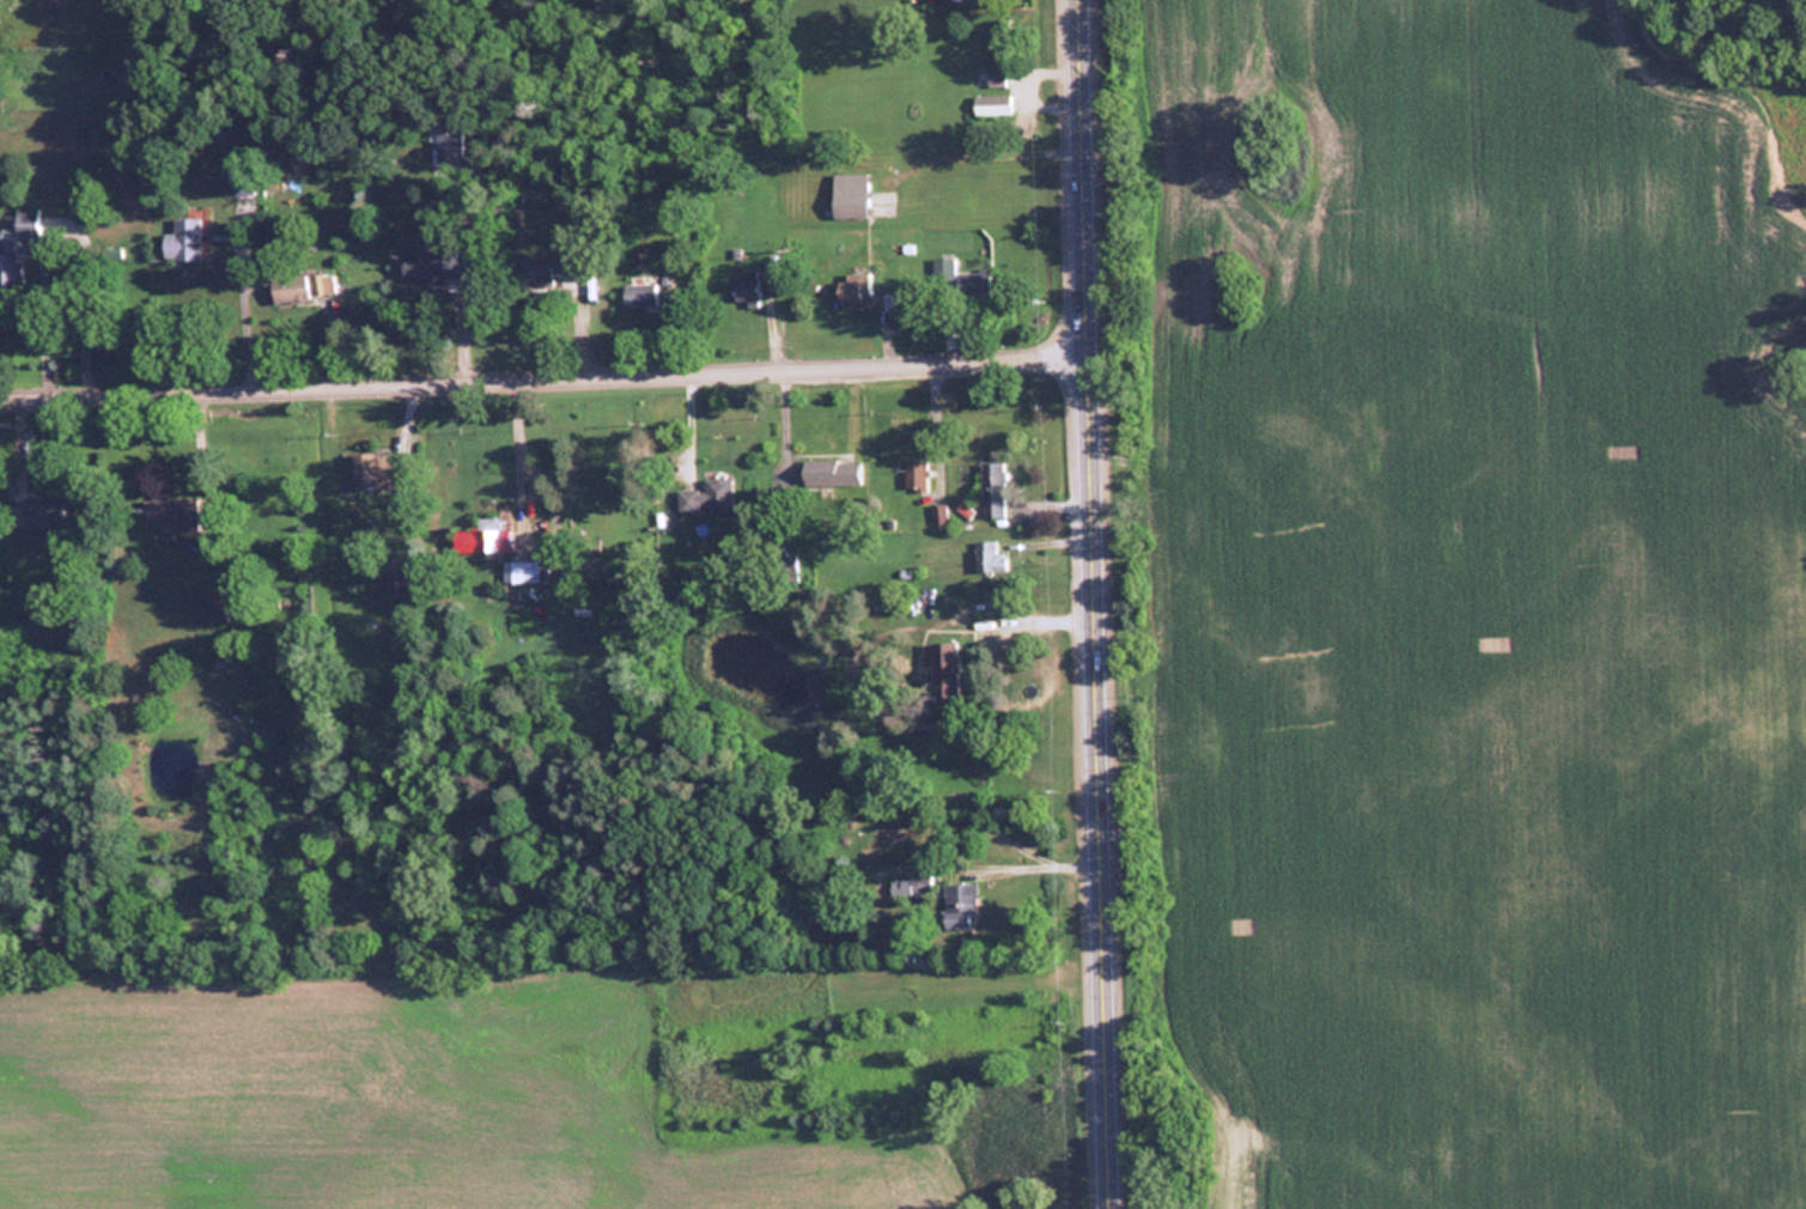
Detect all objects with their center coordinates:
building: (968, 1)
building: (1003, 41)
building: (997, 79)
building: (993, 107)
building: (451, 140)
building: (243, 172)
building: (855, 199)
building: (595, 203)
road: (62, 230)
building: (183, 241)
building: (17, 248)
building: (438, 267)
building: (547, 272)
building: (978, 286)
building: (302, 287)
building: (856, 292)
building: (747, 293)
building: (641, 298)
road: (243, 316)
road: (545, 373)
road: (516, 445)
road: (199, 450)
building: (385, 473)
building: (832, 474)
building: (917, 476)
building: (993, 491)
building: (710, 499)
building: (175, 512)
building: (42, 514)
building: (937, 514)
building: (481, 539)
building: (991, 559)
building: (521, 571)
building: (399, 582)
road: (1096, 603)
building: (219, 606)
road: (1032, 622)
building: (948, 673)
road: (1035, 868)
building: (914, 887)
building: (963, 907)
building: (829, 917)

